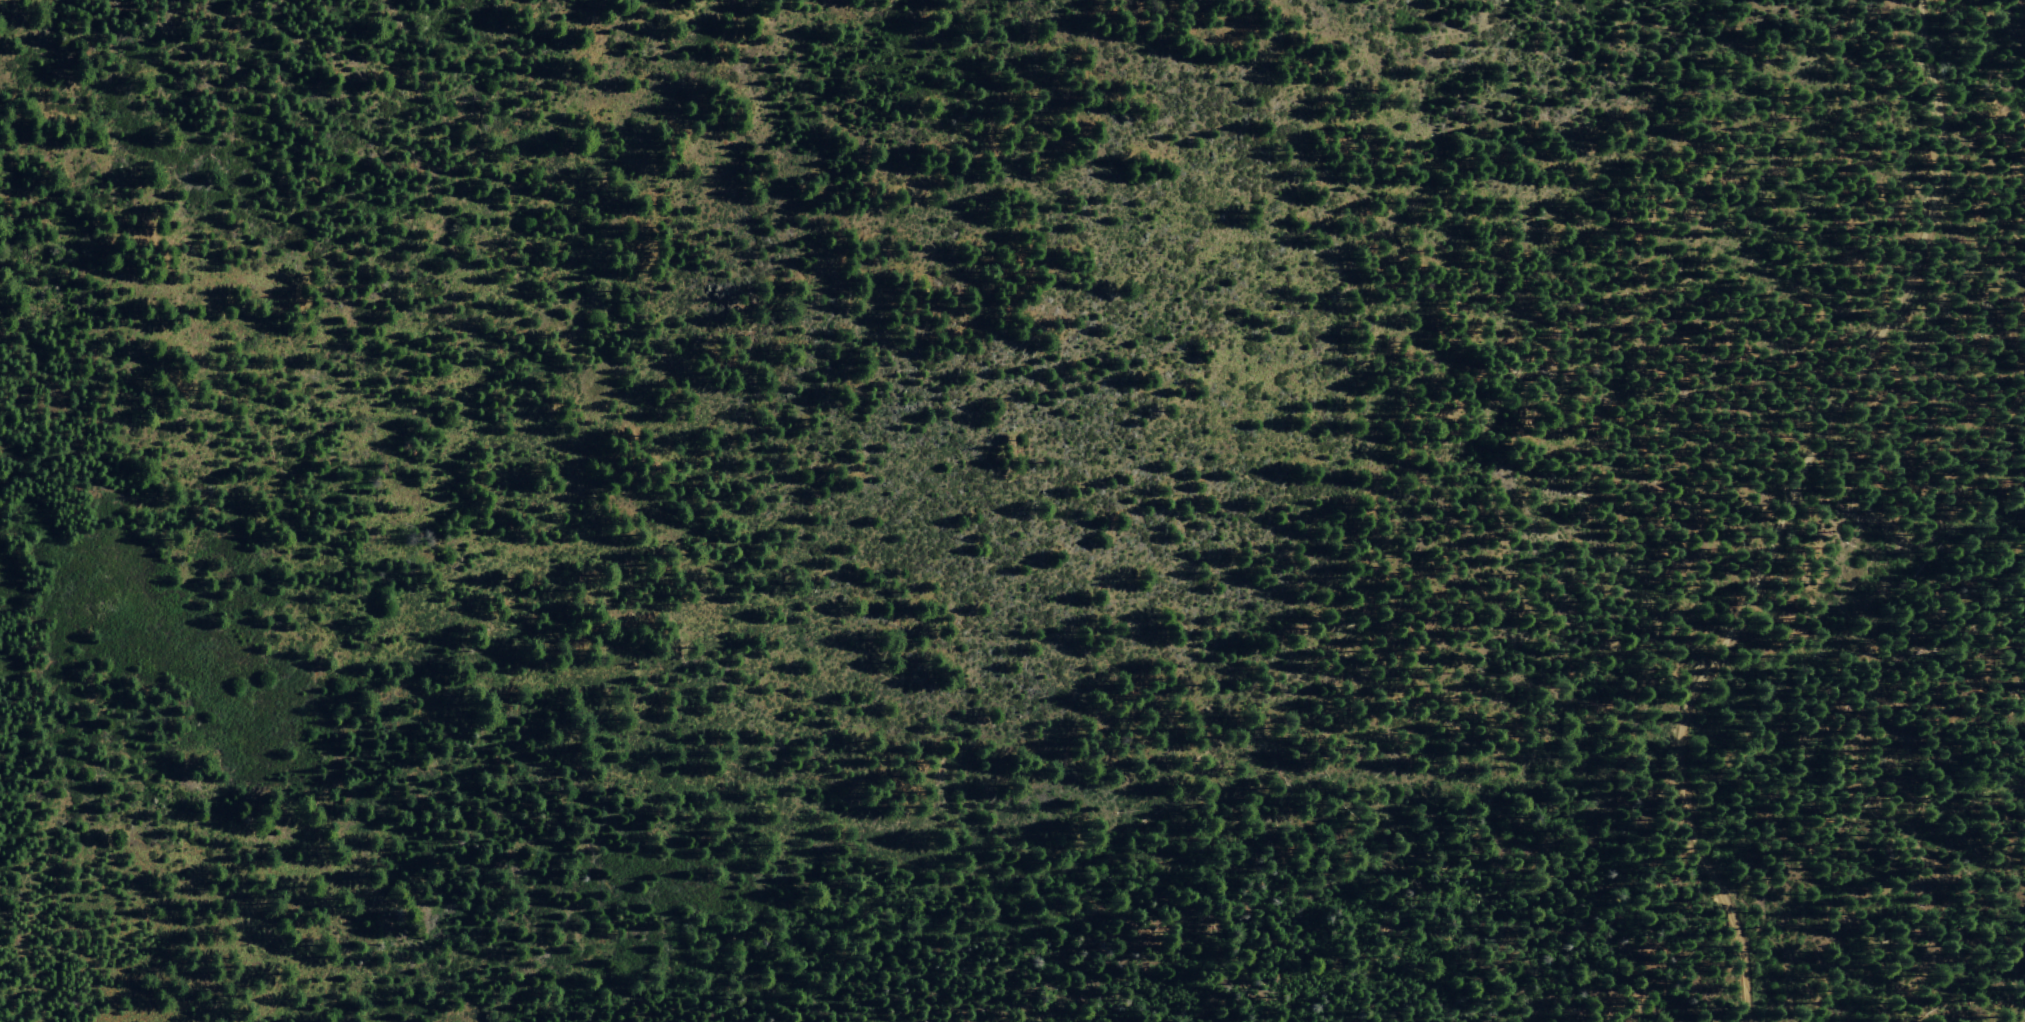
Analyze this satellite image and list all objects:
road: (1789, 511)

